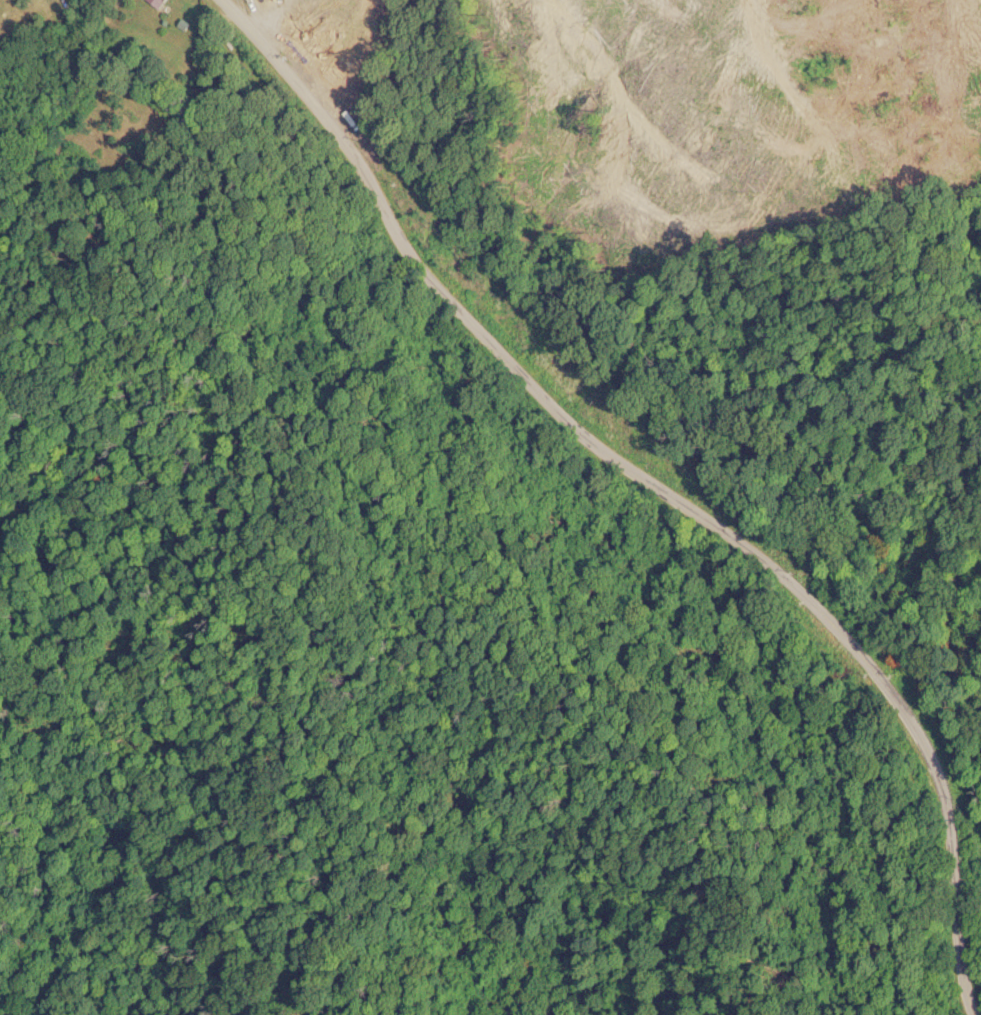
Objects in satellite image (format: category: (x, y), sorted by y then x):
building: (157, 2)
road: (655, 483)
road: (648, 867)

